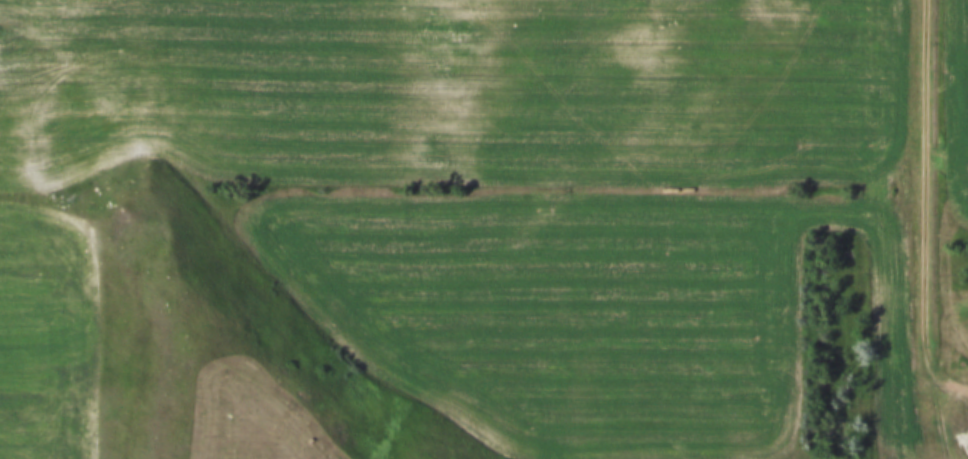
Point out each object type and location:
road: (928, 207)

